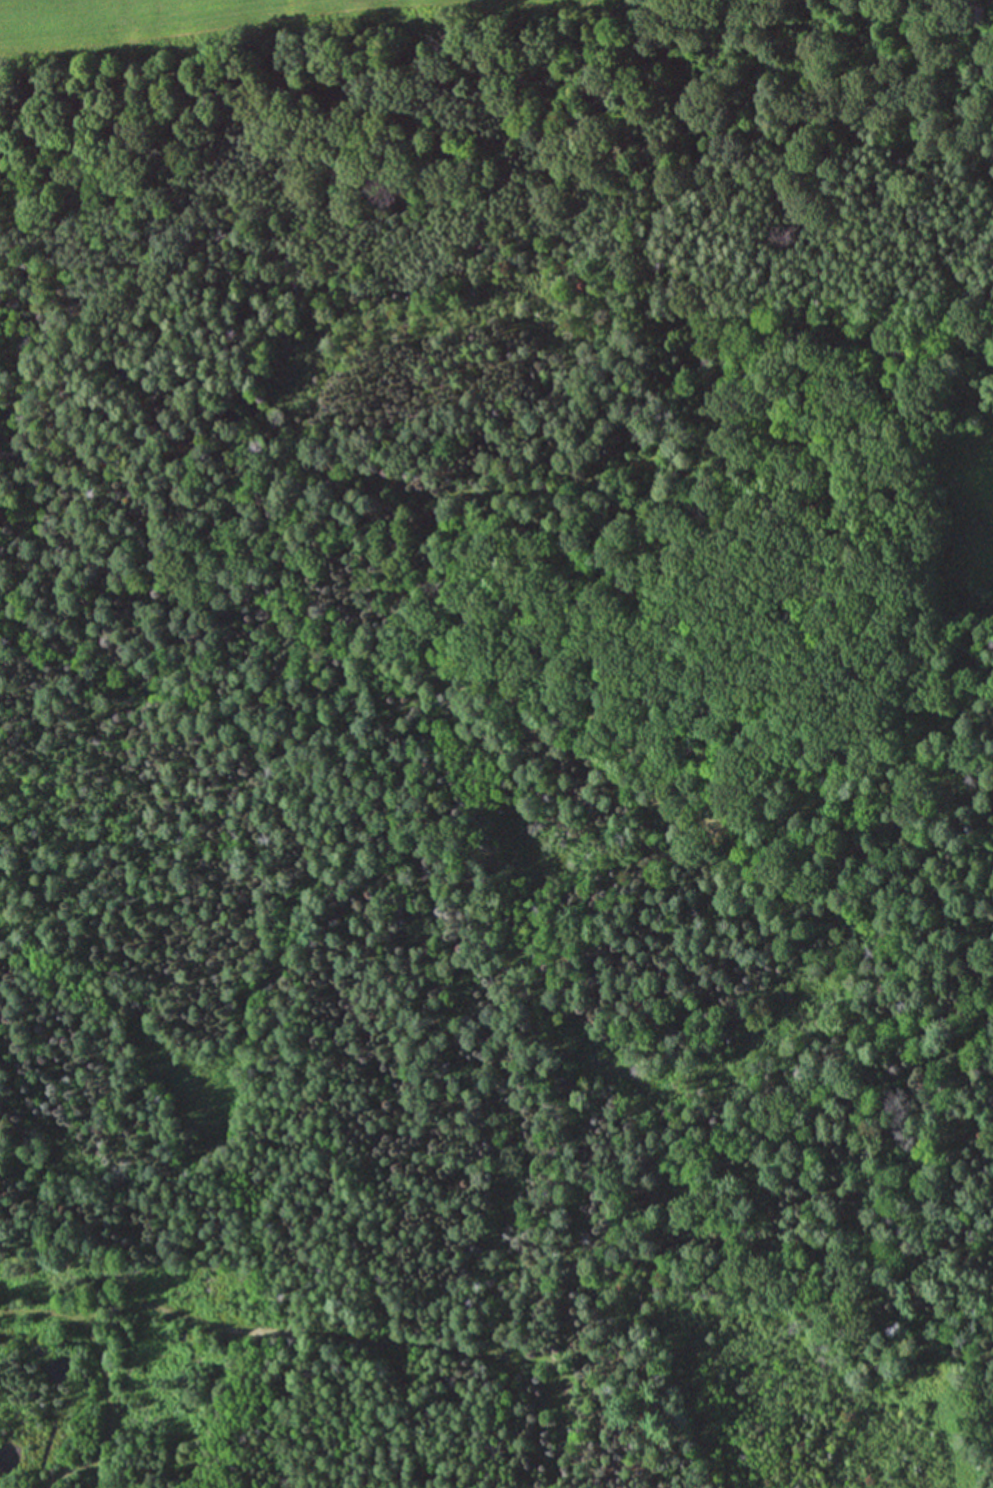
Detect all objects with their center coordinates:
quarry: (88, 1378)

